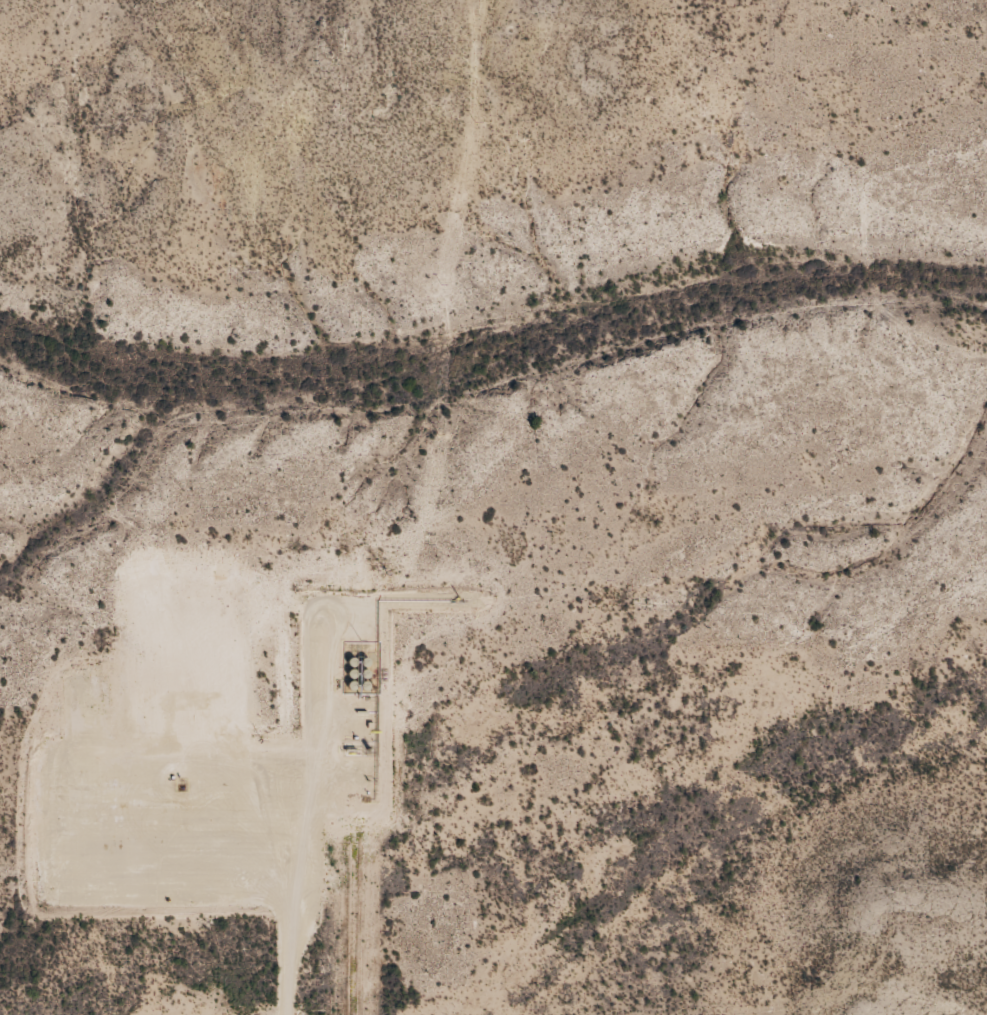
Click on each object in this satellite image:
road: (881, 271)

